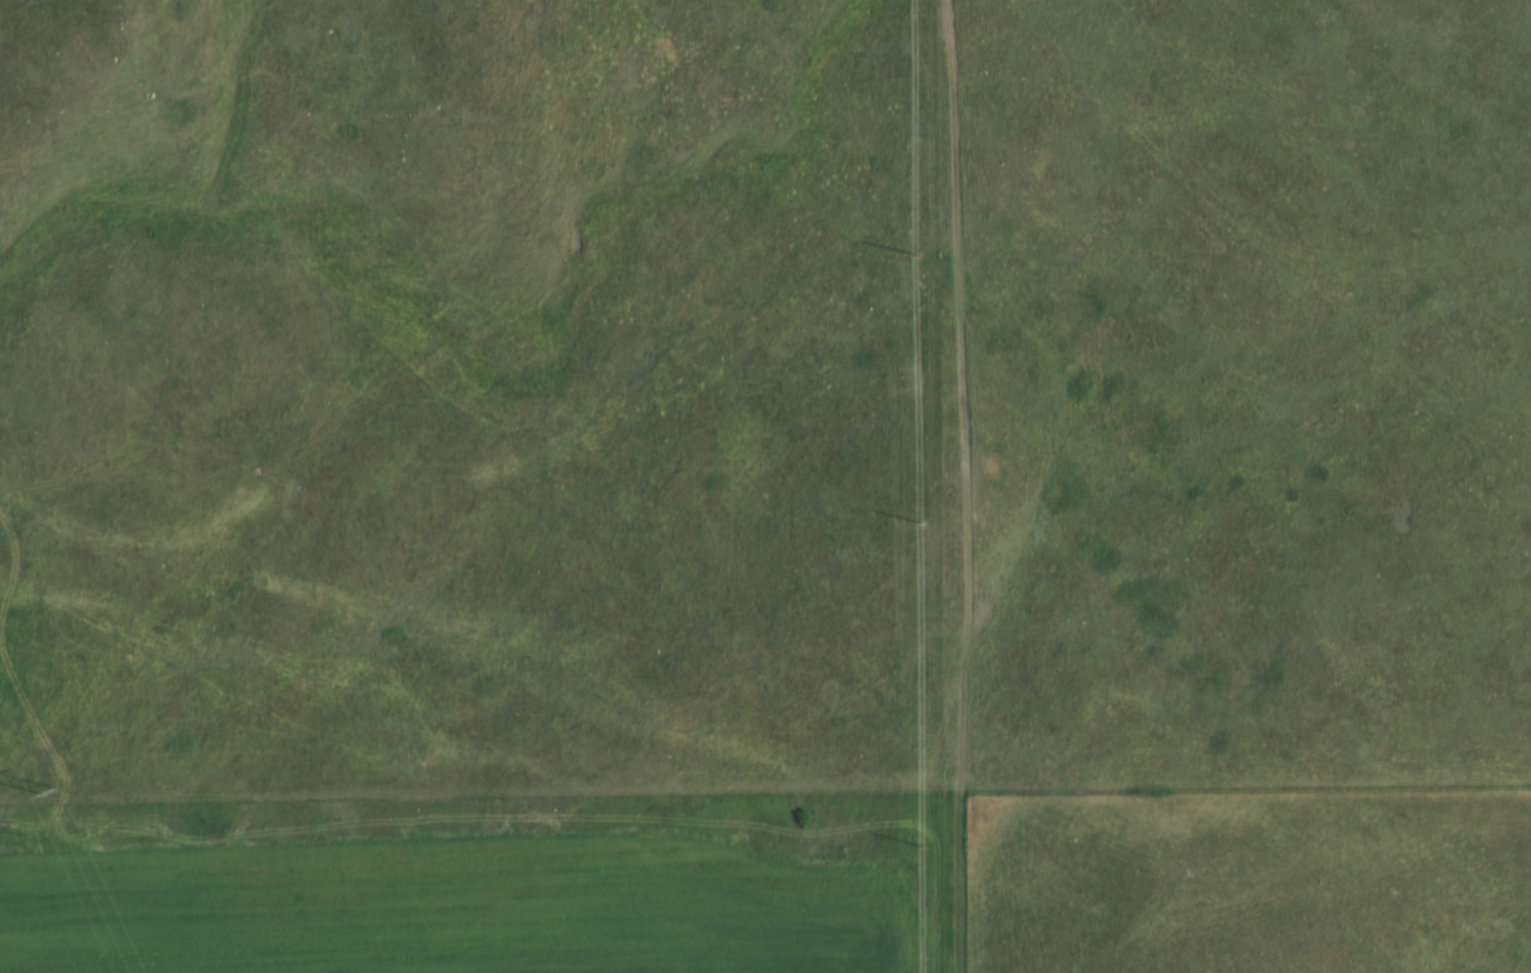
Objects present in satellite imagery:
power tower: (35, 794)

